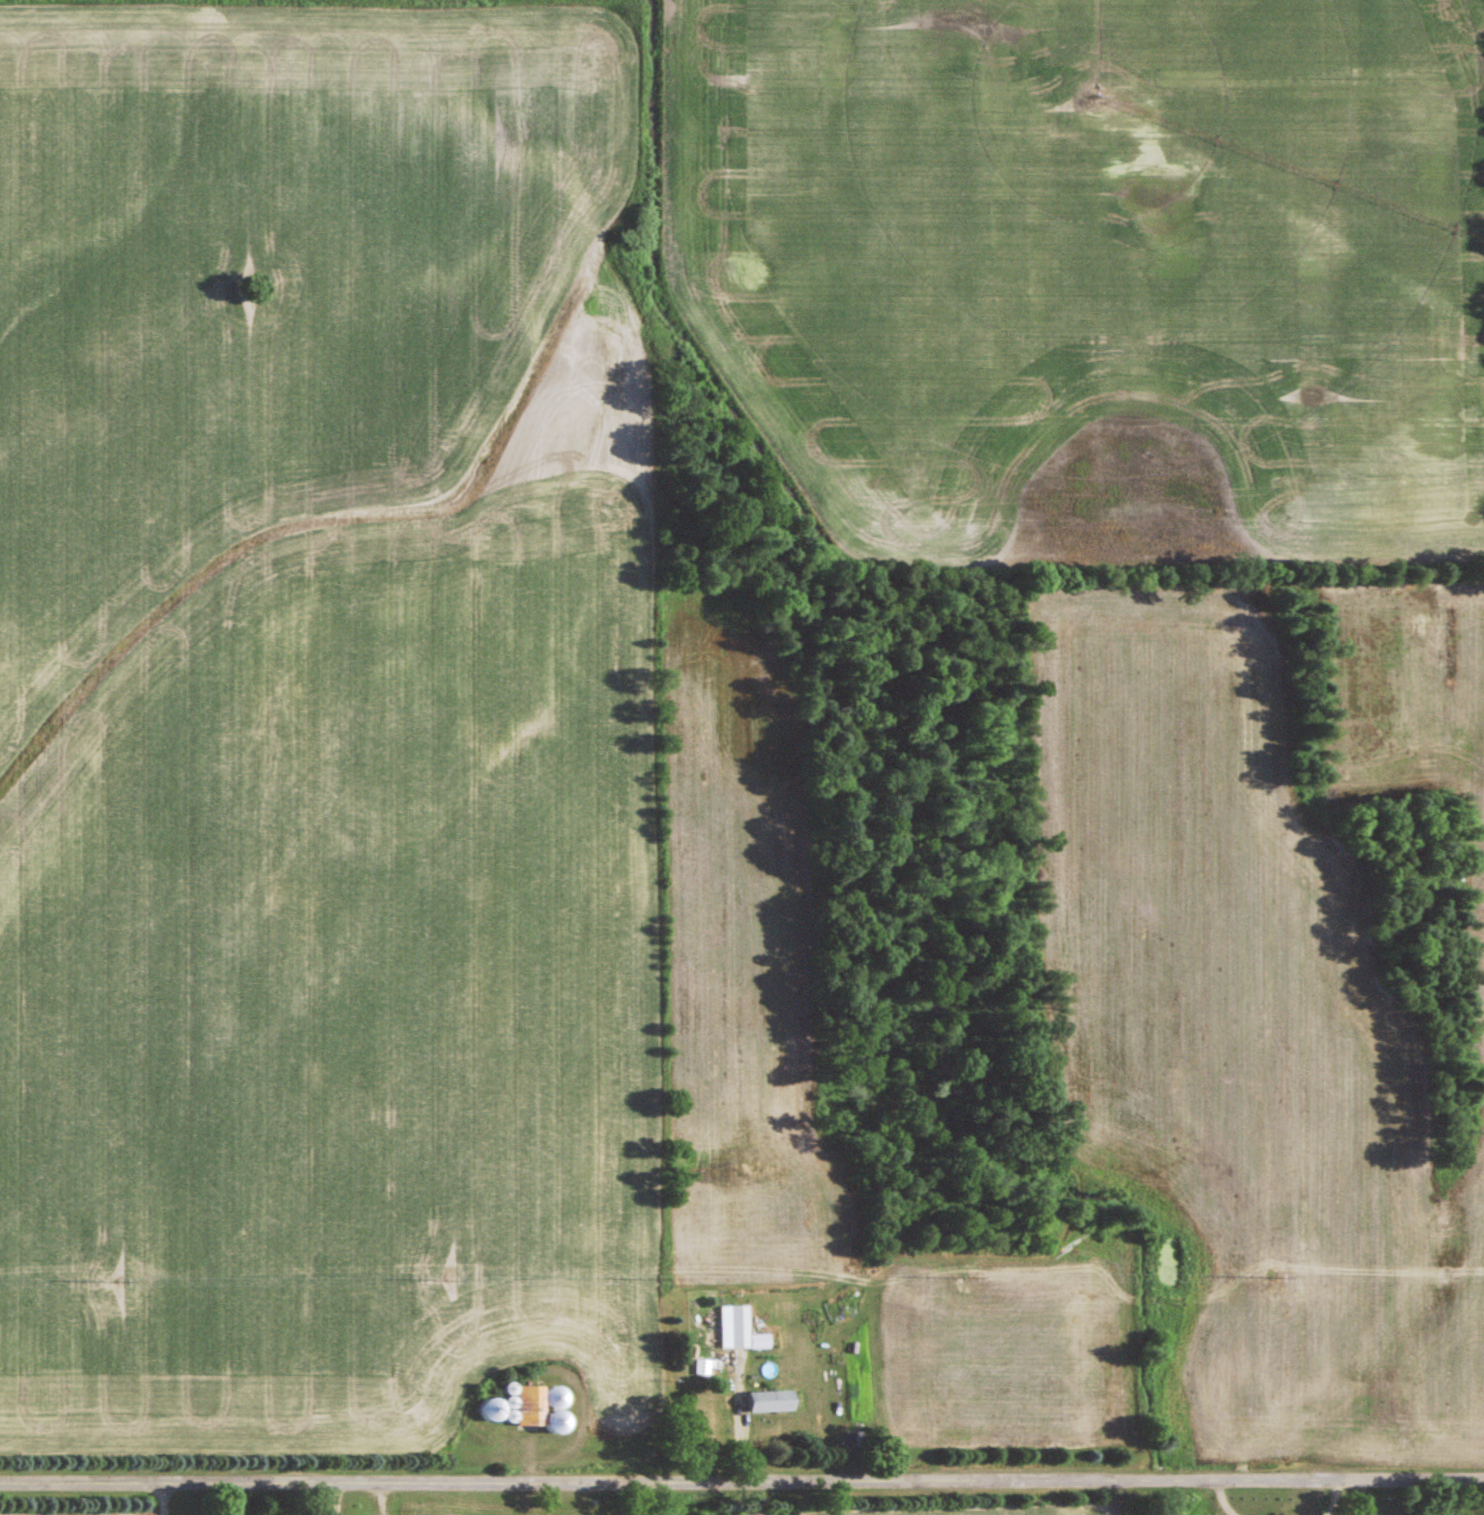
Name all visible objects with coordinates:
building: (738, 1332)
building: (768, 1403)
building: (527, 1407)
road: (742, 1482)
crop: (65, 1511)
crop: (990, 1511)

